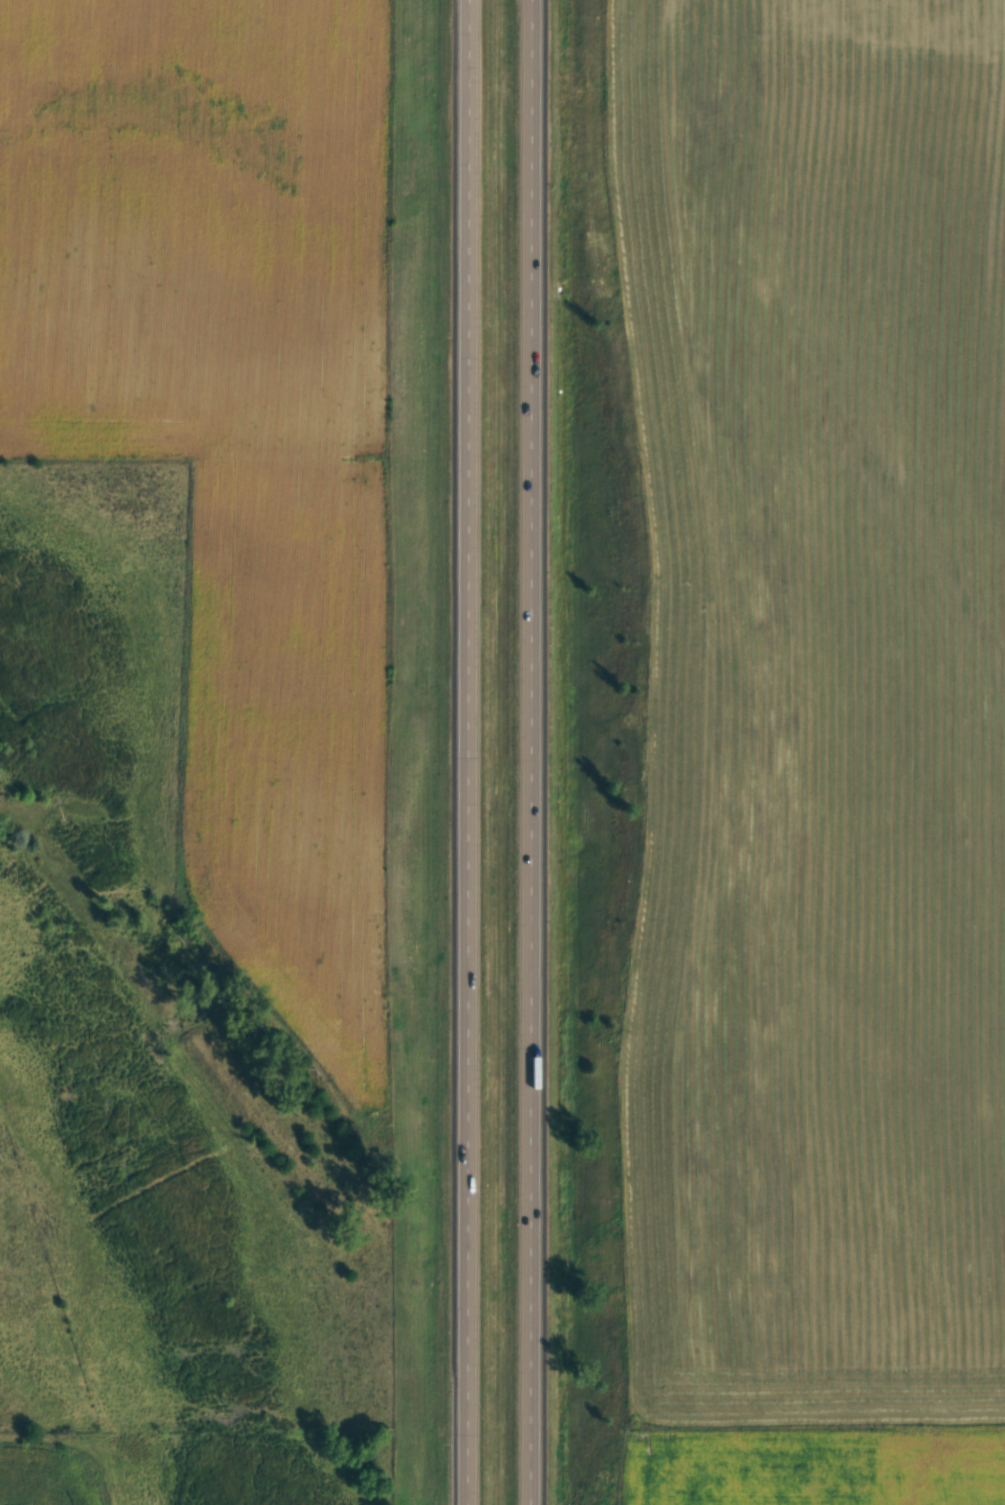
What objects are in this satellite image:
road: (462, 752)
road: (528, 752)

